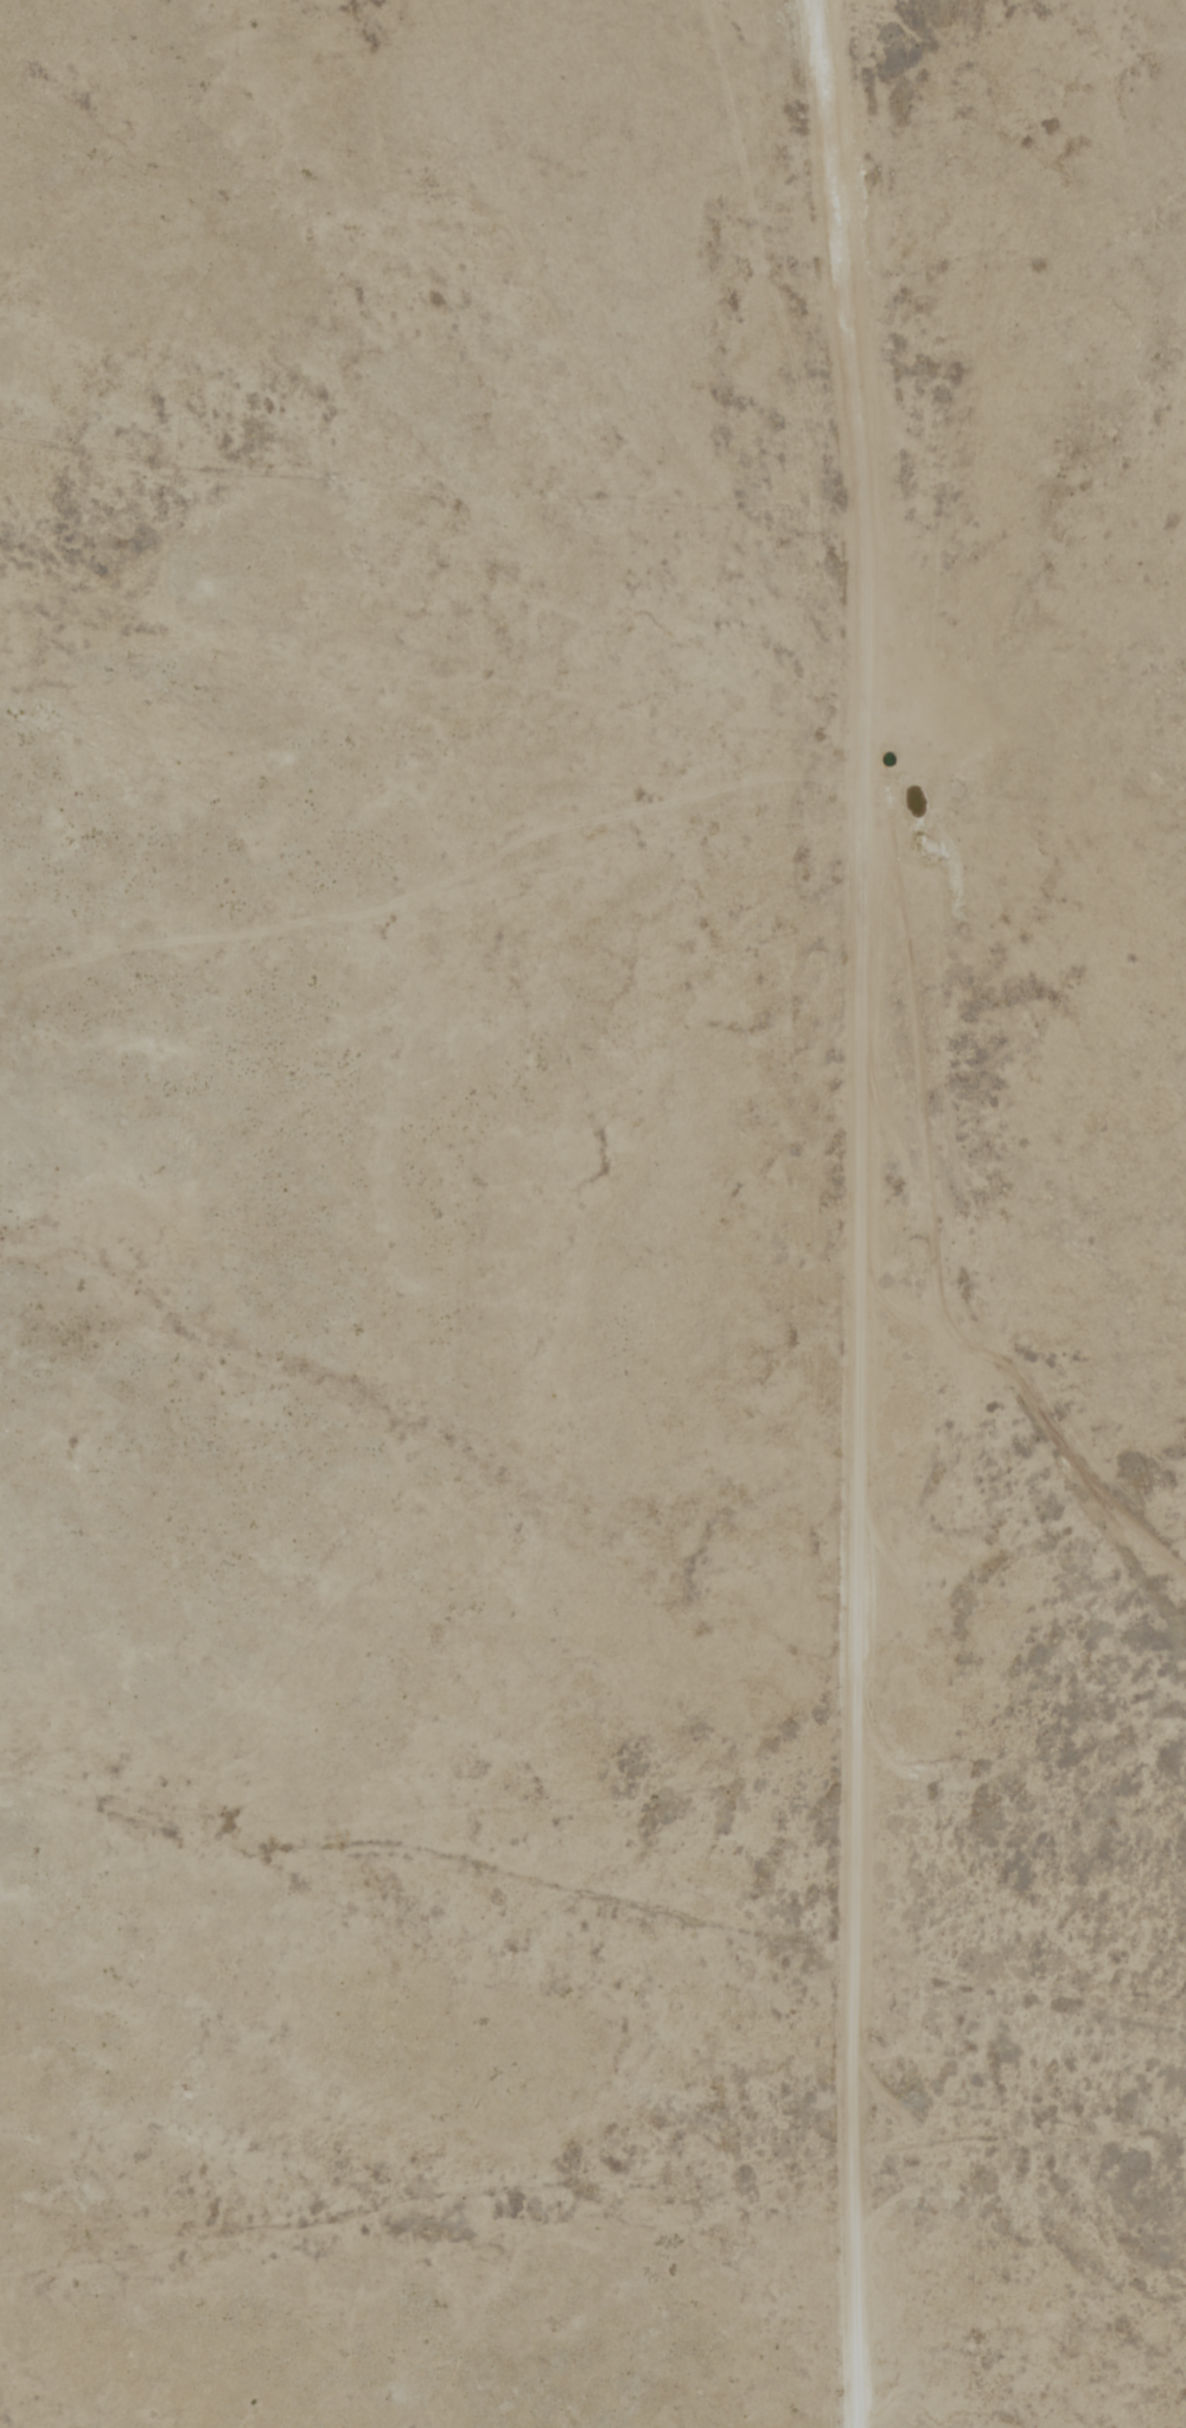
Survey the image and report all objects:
road: (884, 1211)

